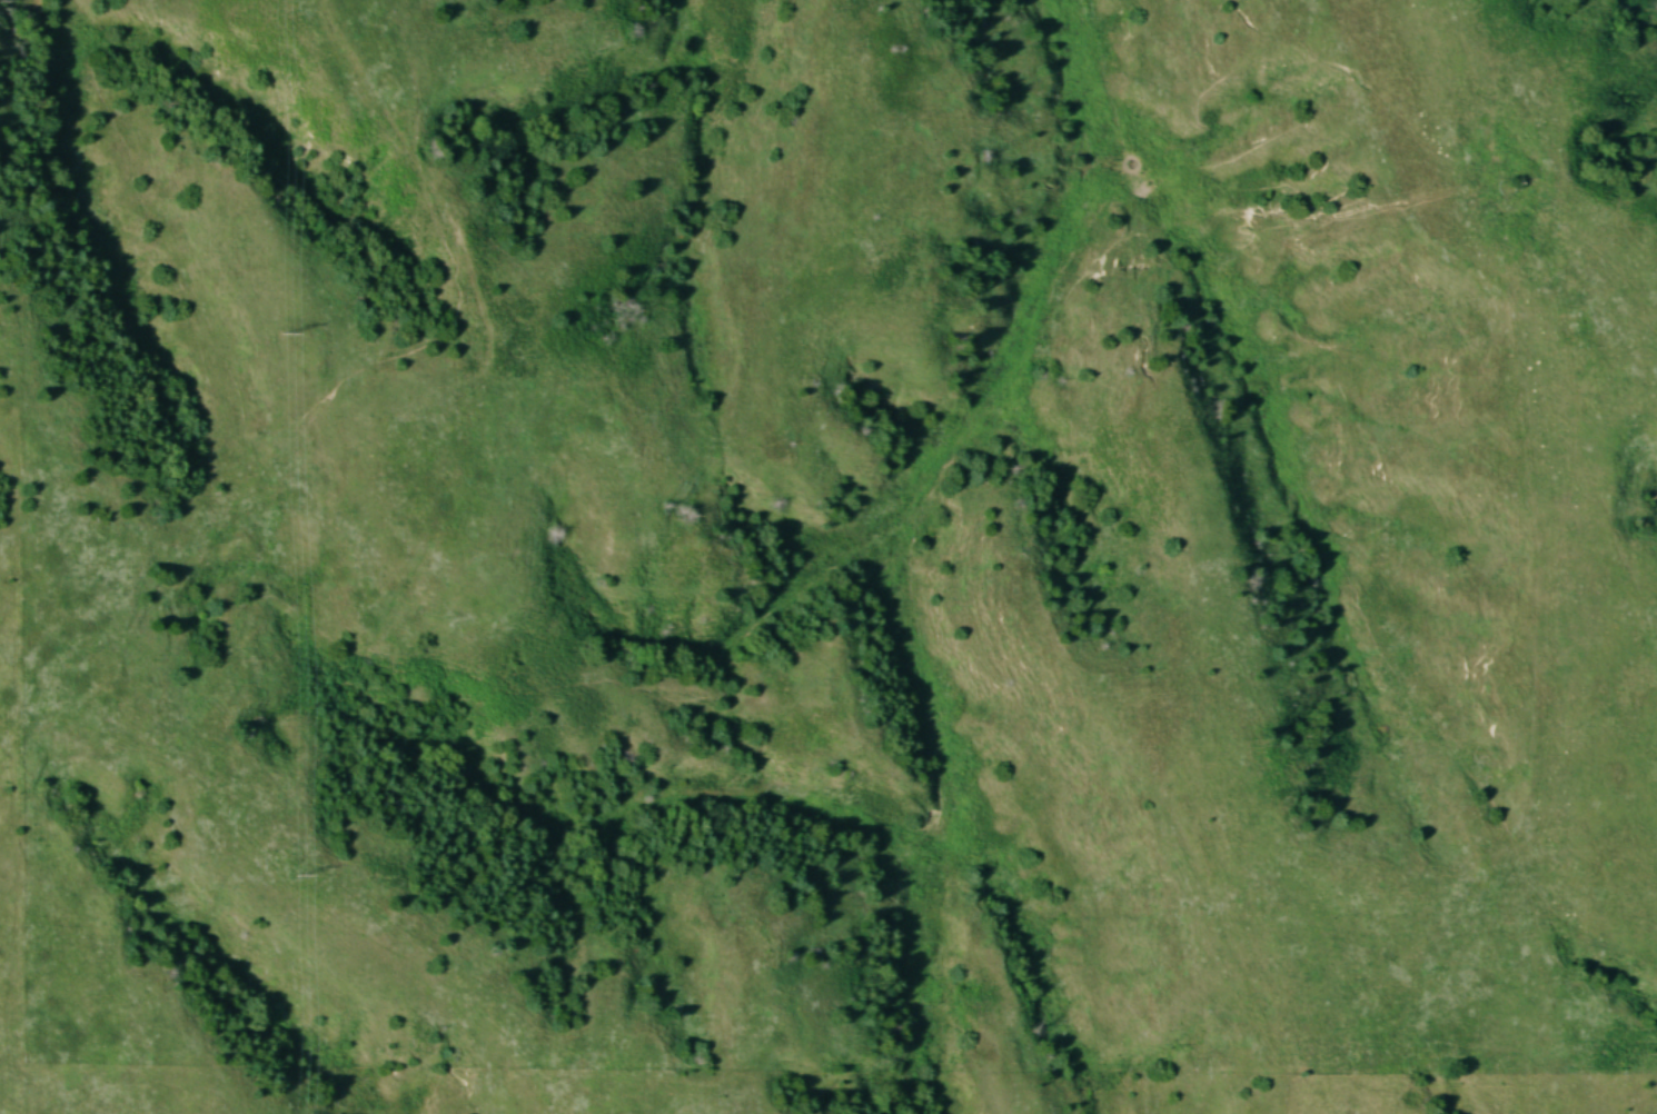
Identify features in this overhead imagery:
power tower: (288, 338)
power tower: (299, 878)

